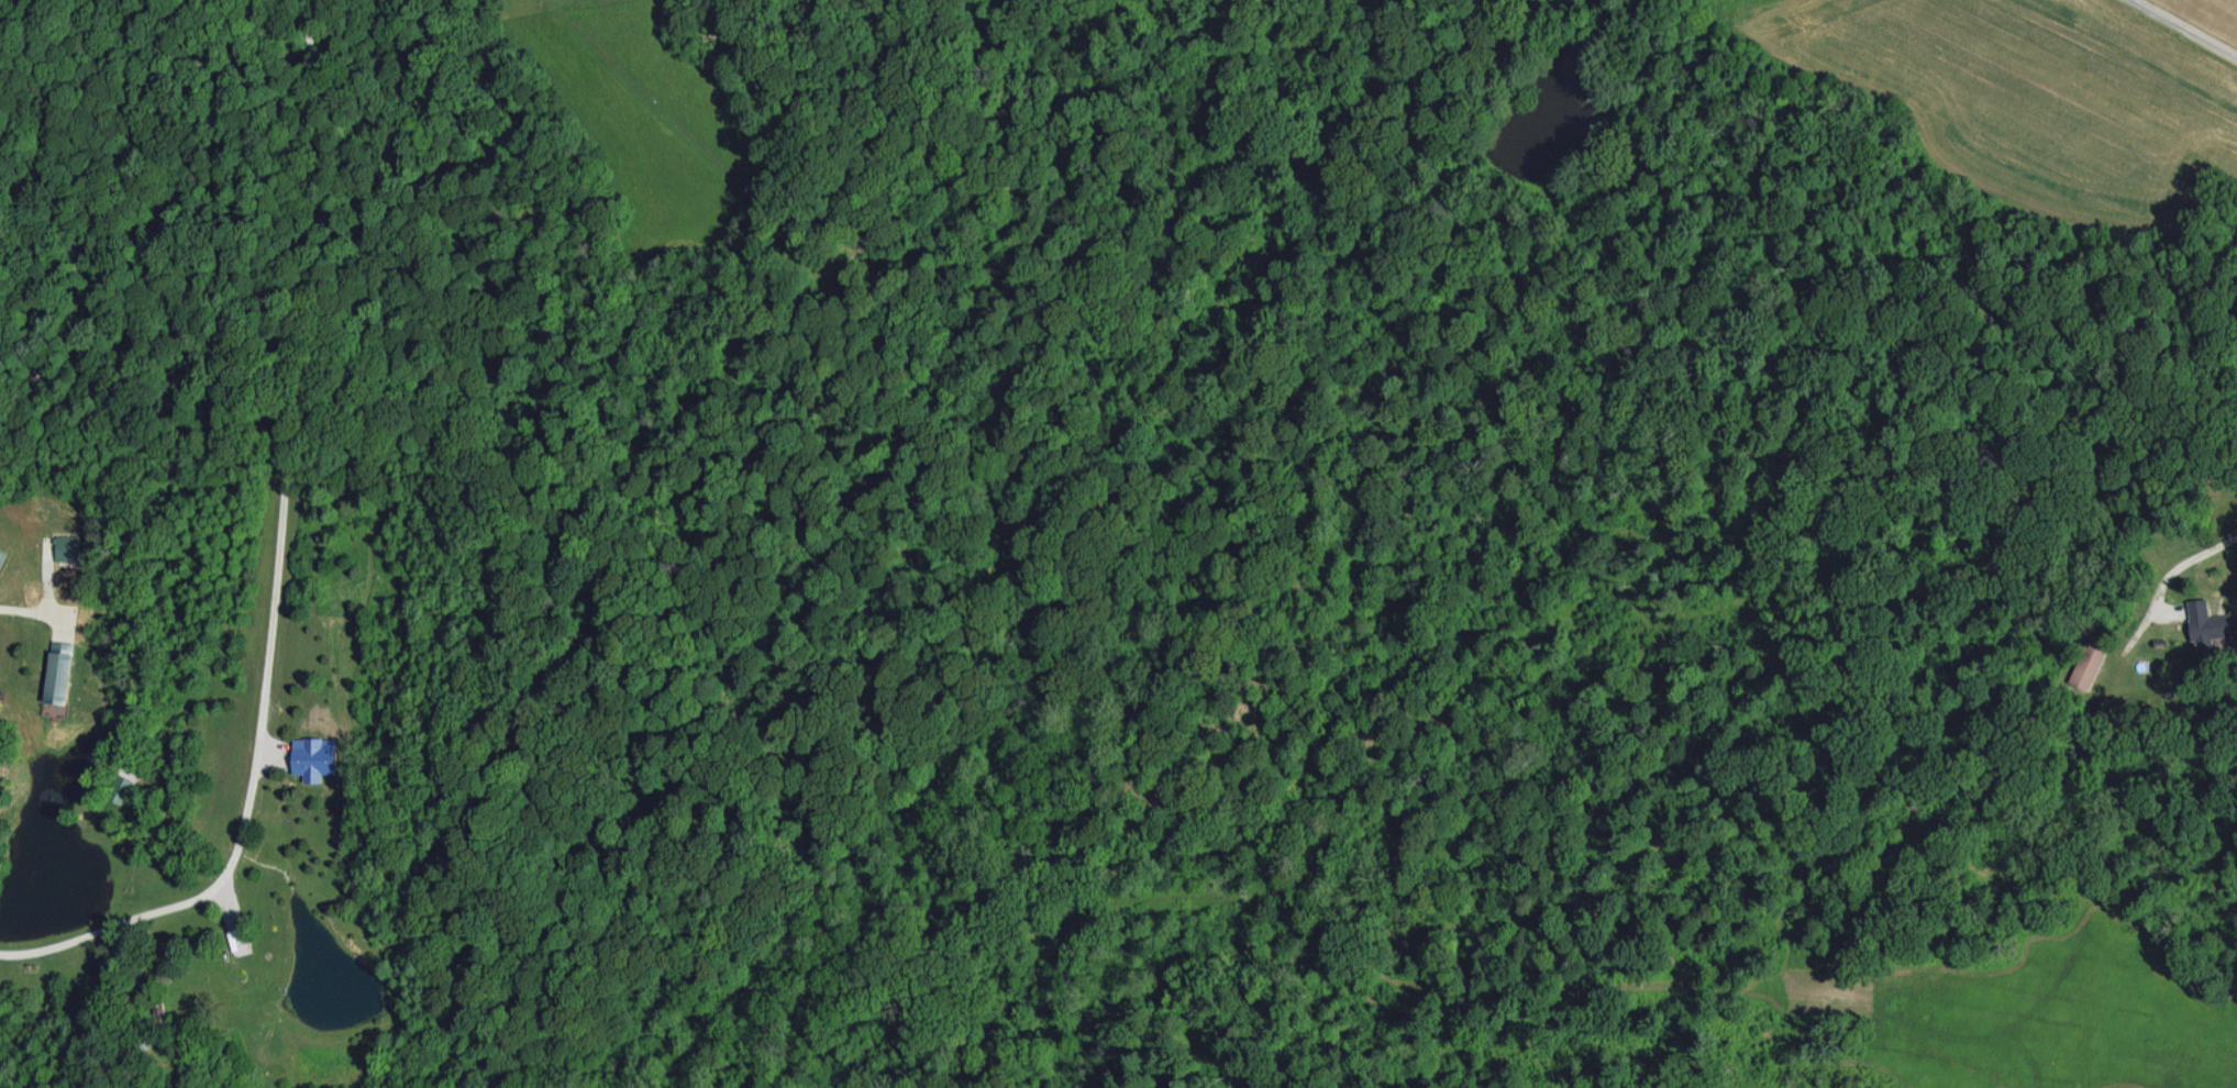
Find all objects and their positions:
road: (2189, 26)
building: (68, 547)
road: (278, 558)
road: (2188, 559)
road: (22, 609)
building: (2210, 621)
building: (2089, 665)
building: (58, 676)
building: (315, 756)
building: (122, 788)

